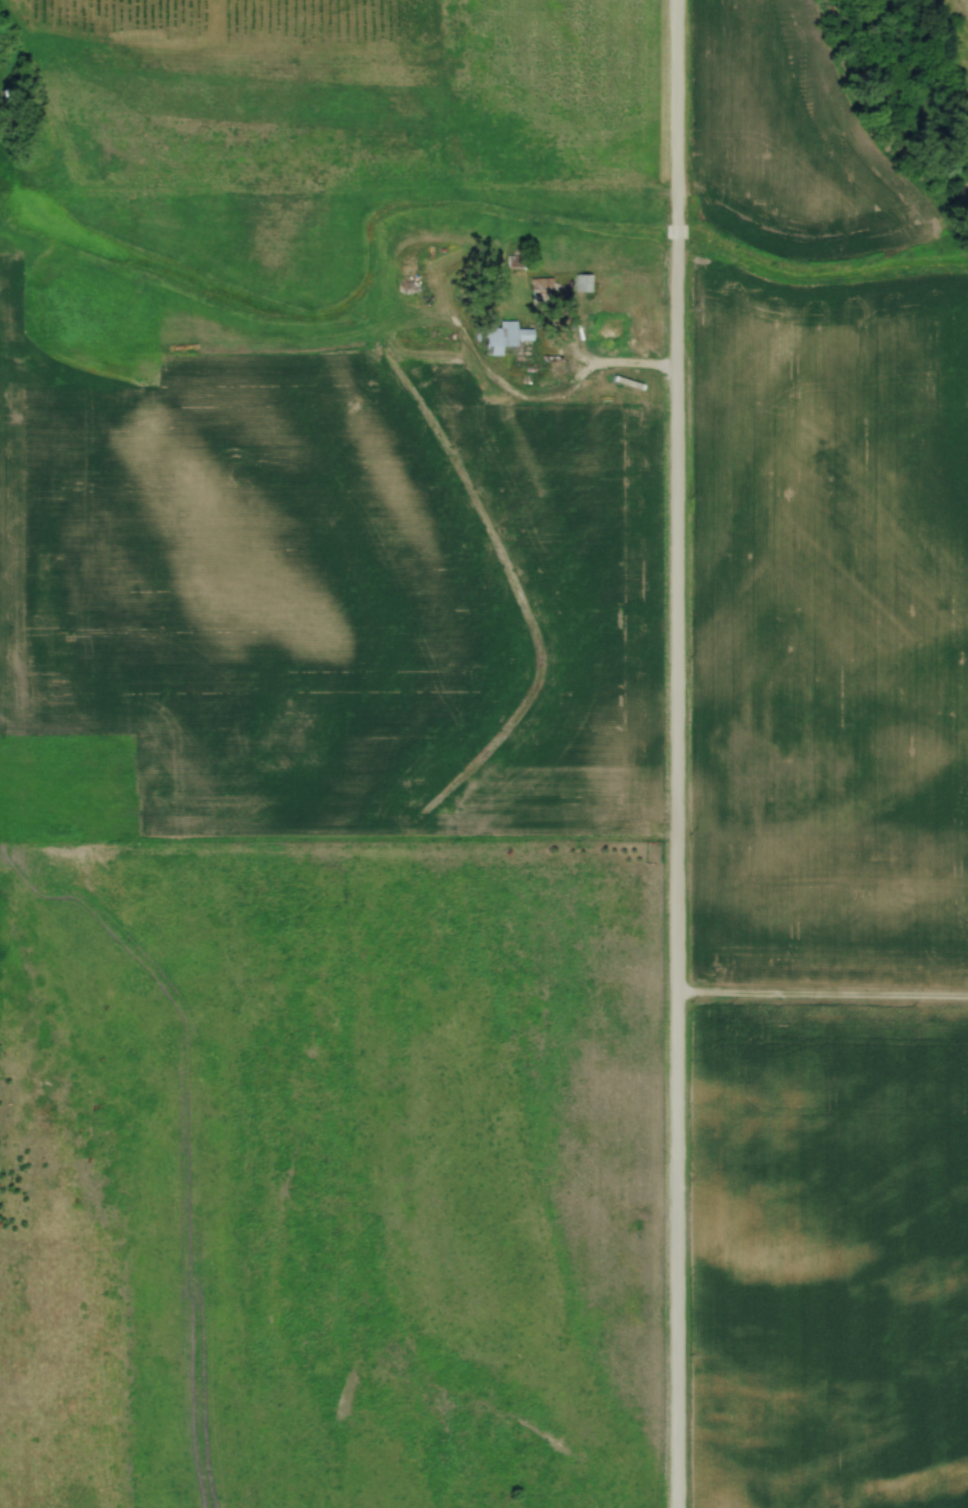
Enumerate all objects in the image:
road: (679, 111)
road: (678, 232)
building: (585, 283)
building: (542, 292)
building: (610, 331)
building: (499, 340)
road: (601, 367)
road: (674, 874)
road: (821, 996)

